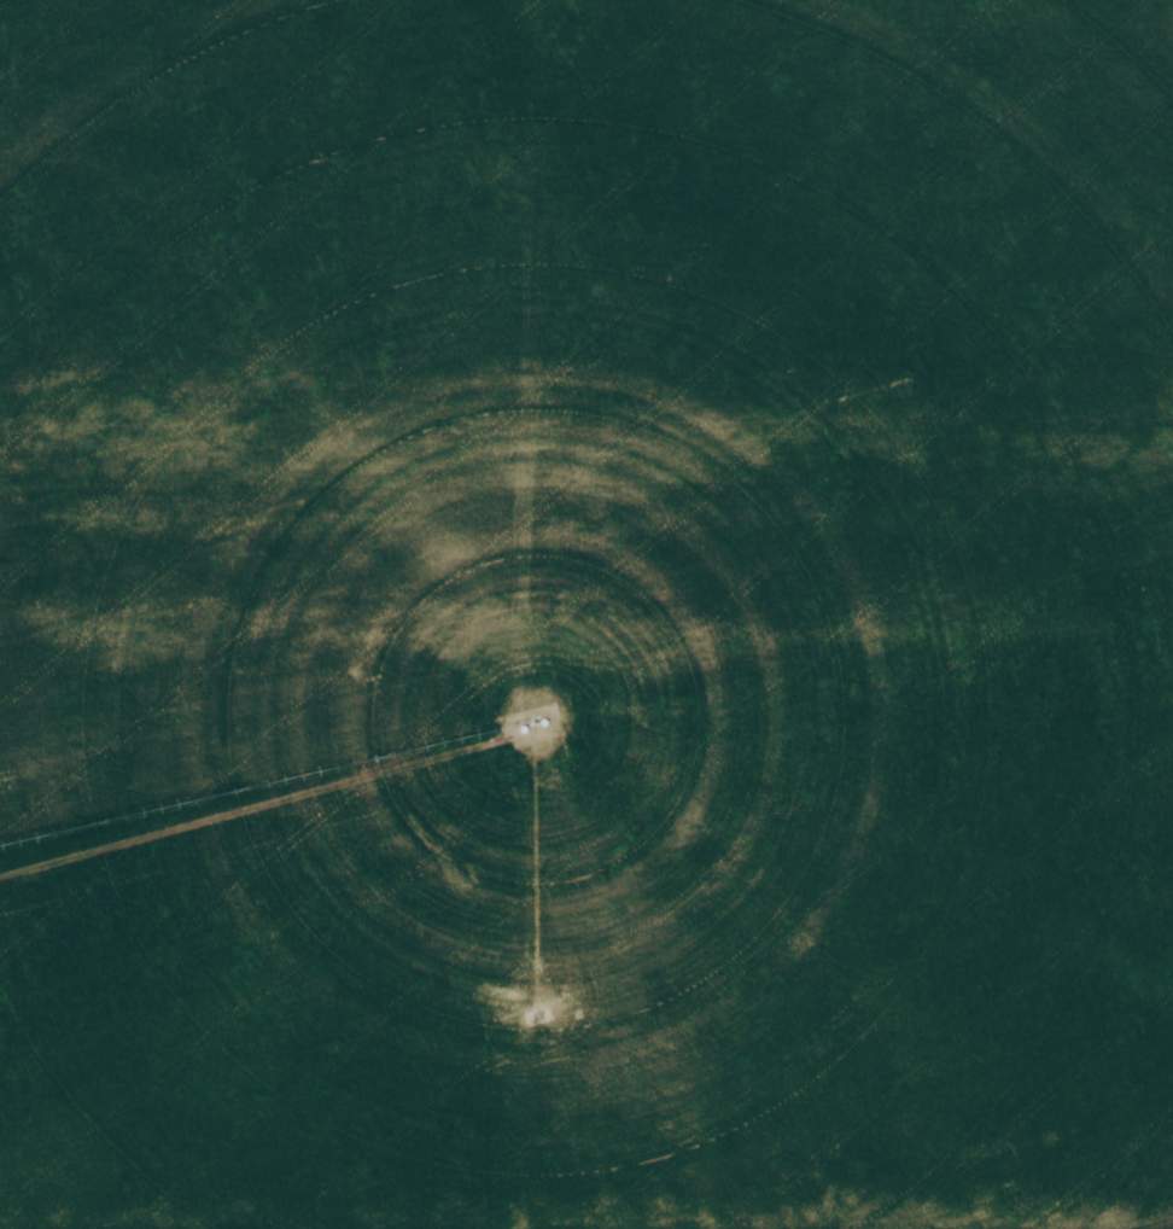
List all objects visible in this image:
crop: (586, 614)

